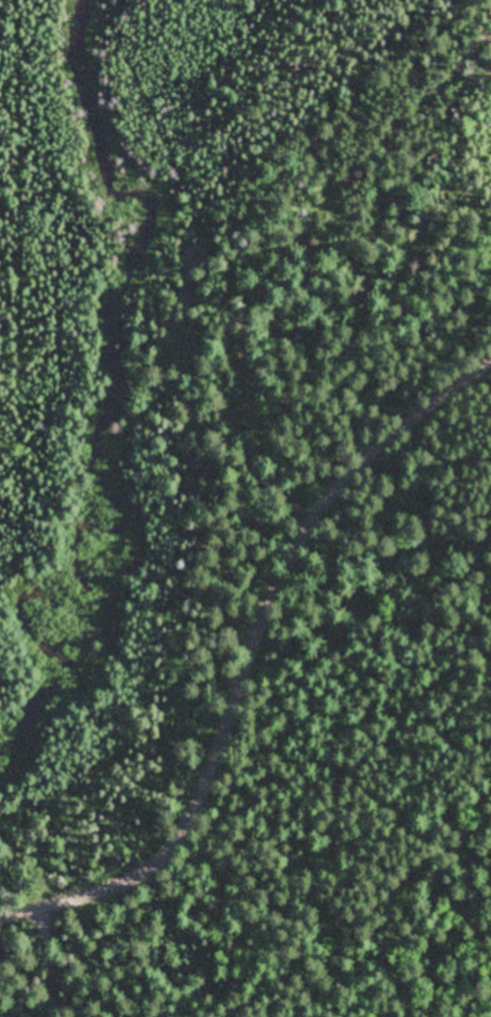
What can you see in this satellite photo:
road: (247, 655)

